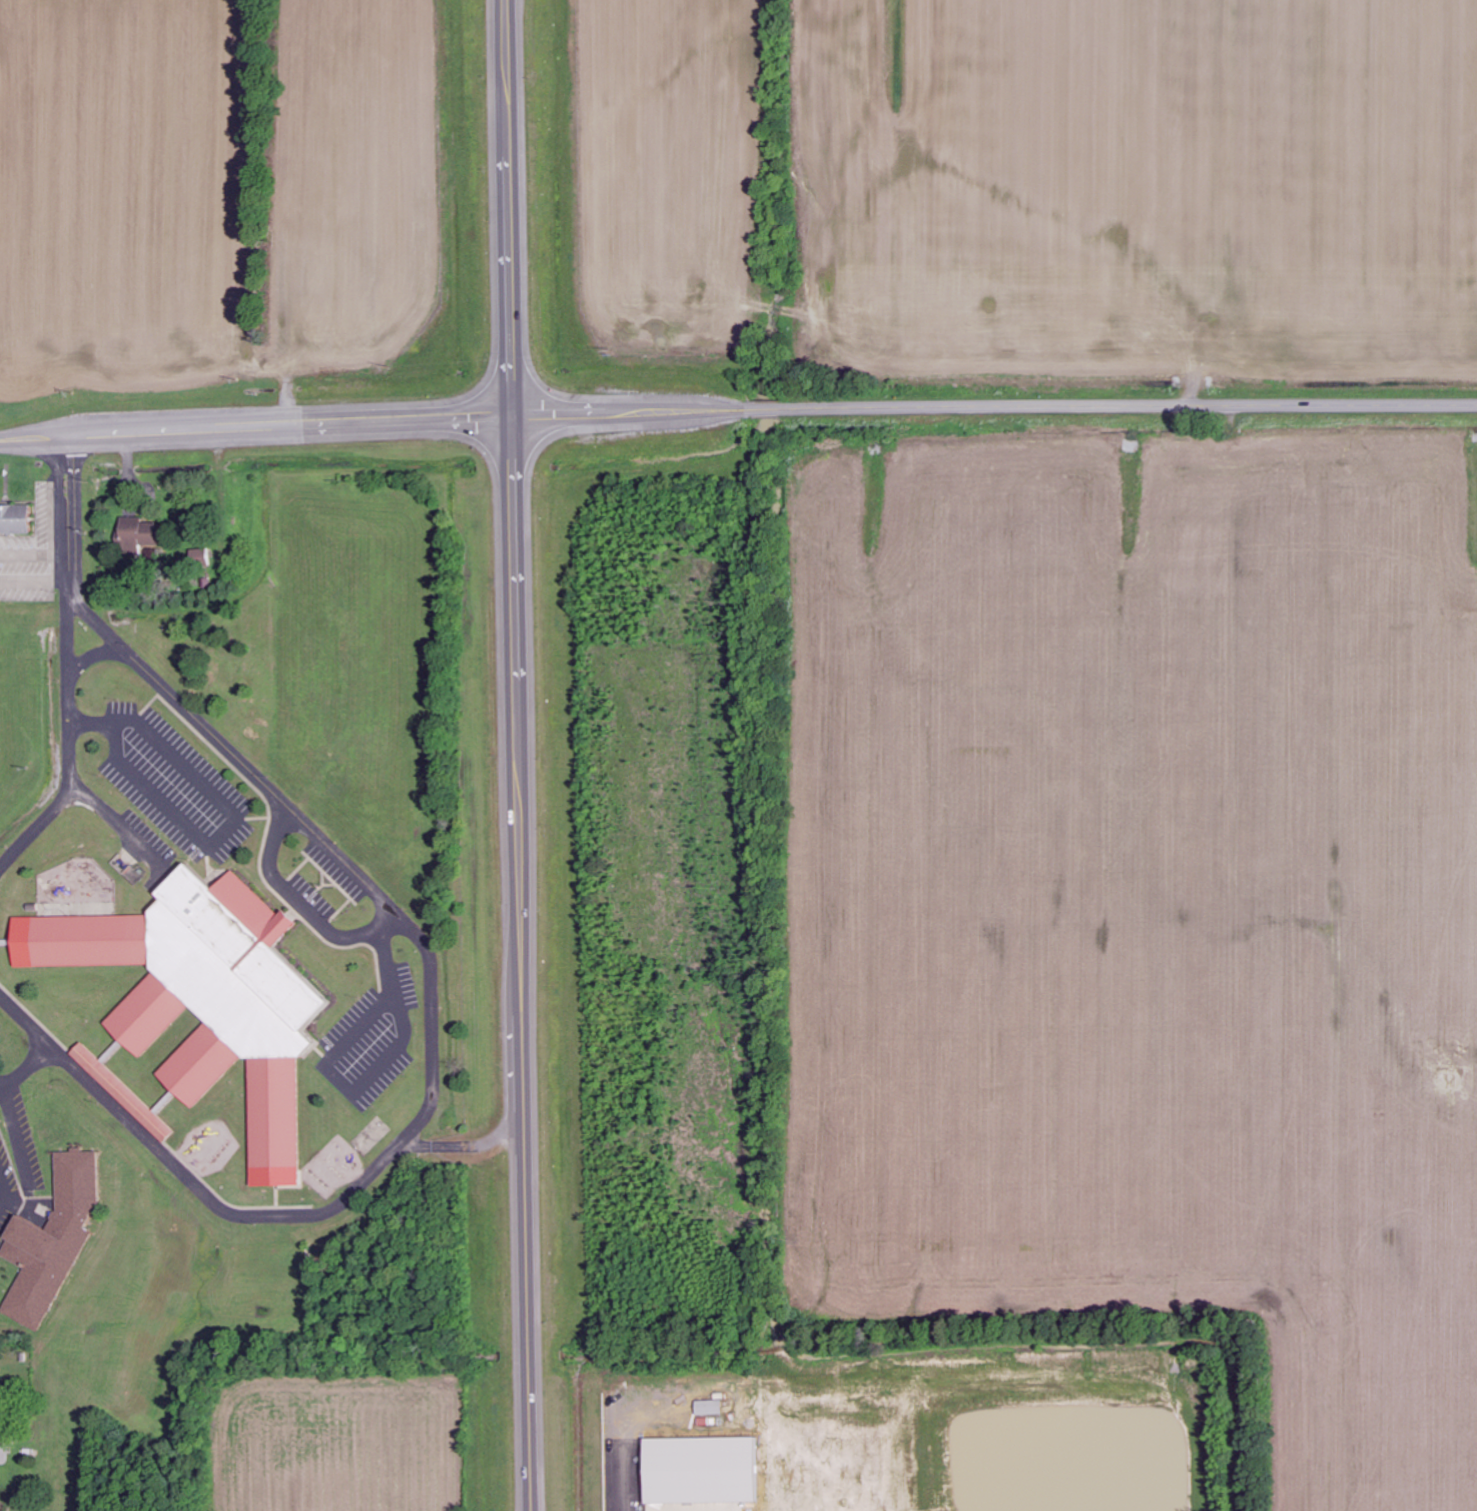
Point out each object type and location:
road: (920, 407)
road: (182, 431)
building: (14, 520)
building: (137, 534)
building: (202, 557)
road: (67, 616)
road: (91, 654)
road: (519, 755)
road: (84, 796)
road: (234, 816)
road: (299, 905)
building: (56, 910)
building: (5, 941)
road: (5, 941)
building: (201, 996)
road: (34, 1017)
road: (431, 1017)
road: (46, 1045)
road: (105, 1056)
road: (327, 1060)
building: (121, 1092)
road: (116, 1096)
road: (157, 1107)
road: (16, 1134)
park: (373, 1136)
road: (470, 1144)
road: (227, 1202)
building: (51, 1239)
building: (709, 1407)
building: (700, 1470)

